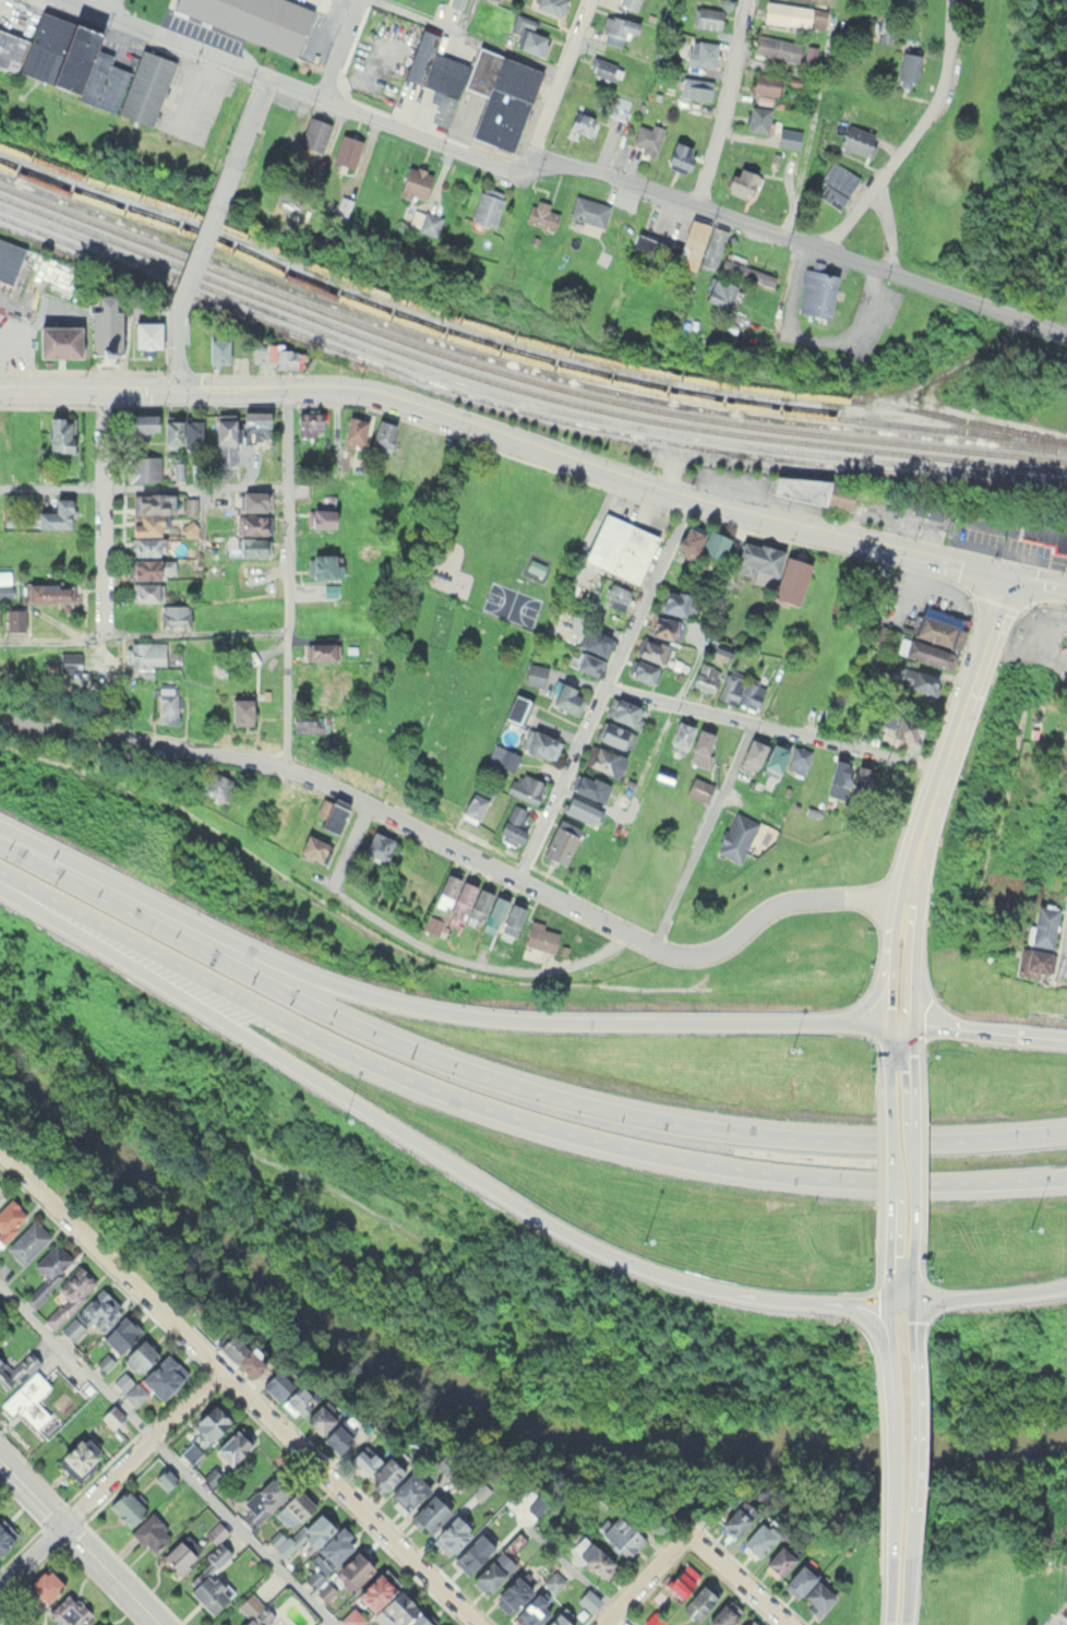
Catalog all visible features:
building: (806, 0)
building: (457, 2)
building: (628, 3)
road: (120, 4)
building: (551, 5)
building: (208, 10)
building: (794, 14)
building: (706, 16)
road: (432, 19)
building: (619, 28)
building: (528, 34)
road: (343, 49)
building: (787, 49)
building: (49, 51)
building: (703, 52)
building: (602, 68)
building: (907, 68)
building: (765, 83)
building: (145, 86)
building: (477, 87)
building: (695, 87)
road: (559, 91)
road: (310, 96)
building: (620, 106)
road: (729, 108)
building: (757, 118)
building: (582, 122)
road: (252, 126)
building: (314, 134)
building: (789, 136)
building: (647, 138)
building: (858, 140)
road: (919, 140)
building: (347, 152)
building: (680, 156)
building: (740, 181)
building: (415, 182)
building: (837, 183)
building: (485, 206)
building: (588, 211)
building: (540, 215)
building: (424, 222)
road: (890, 230)
road: (207, 240)
building: (702, 244)
building: (650, 247)
road: (795, 247)
building: (8, 262)
building: (745, 270)
building: (35, 280)
building: (718, 292)
building: (815, 294)
building: (99, 327)
railway: (520, 333)
building: (144, 334)
building: (55, 342)
road: (179, 350)
building: (217, 350)
building: (193, 353)
railway: (512, 353)
building: (285, 358)
railway: (519, 365)
railway: (519, 374)
traffic signals: (180, 386)
railway: (519, 386)
railway: (520, 396)
railway: (519, 404)
building: (309, 420)
building: (140, 421)
building: (254, 422)
building: (353, 426)
building: (180, 429)
building: (1, 430)
building: (381, 431)
building: (59, 433)
building: (224, 437)
road: (509, 442)
building: (142, 466)
road: (144, 486)
building: (810, 491)
building: (254, 498)
building: (190, 504)
building: (321, 509)
building: (51, 513)
building: (252, 522)
building: (146, 524)
park: (500, 533)
building: (703, 539)
building: (250, 545)
building: (620, 546)
road: (103, 562)
building: (537, 564)
building: (151, 566)
traffic signals: (1010, 574)
road: (289, 576)
building: (791, 577)
road: (1039, 579)
building: (145, 589)
building: (43, 590)
building: (616, 595)
building: (673, 600)
park: (514, 602)
building: (173, 614)
building: (12, 616)
building: (936, 623)
building: (661, 624)
road: (145, 633)
building: (595, 640)
building: (319, 649)
building: (651, 649)
building: (926, 650)
building: (144, 653)
building: (585, 661)
building: (63, 664)
building: (643, 670)
building: (1063, 671)
building: (316, 673)
building: (536, 673)
building: (706, 677)
building: (916, 678)
road: (602, 685)
building: (743, 690)
building: (565, 696)
building: (166, 701)
building: (239, 709)
building: (622, 709)
building: (308, 724)
road: (772, 727)
building: (907, 727)
building: (614, 734)
road: (954, 734)
building: (680, 736)
building: (538, 742)
building: (702, 745)
building: (752, 752)
building: (774, 757)
building: (604, 760)
building: (1066, 761)
building: (808, 763)
building: (848, 774)
building: (214, 784)
building: (589, 785)
building: (526, 787)
building: (698, 787)
building: (285, 800)
building: (471, 802)
road: (374, 805)
building: (578, 810)
building: (326, 812)
building: (513, 822)
road: (703, 833)
building: (736, 835)
building: (556, 840)
road: (351, 843)
building: (377, 843)
building: (313, 846)
road: (807, 896)
building: (478, 905)
building: (1043, 923)
road: (890, 928)
building: (540, 937)
road: (473, 959)
road: (913, 959)
building: (1033, 960)
road: (1065, 963)
road: (889, 991)
road: (866, 1001)
road: (436, 1008)
traffic signals: (890, 1021)
traffic signals: (912, 1021)
road: (990, 1028)
road: (888, 1044)
road: (912, 1044)
road: (509, 1082)
road: (508, 1113)
road: (420, 1143)
road: (912, 1156)
road: (887, 1157)
building: (1, 1194)
building: (10, 1217)
building: (27, 1241)
road: (110, 1254)
building: (50, 1268)
building: (70, 1293)
road: (972, 1294)
road: (888, 1297)
road: (913, 1297)
traffic signals: (913, 1300)
traffic signals: (888, 1301)
building: (103, 1321)
building: (133, 1360)
building: (251, 1361)
building: (8, 1372)
building: (149, 1381)
building: (275, 1383)
building: (28, 1398)
building: (296, 1399)
river: (481, 1399)
building: (208, 1421)
building: (333, 1422)
building: (231, 1446)
road: (889, 1450)
road: (910, 1450)
building: (191, 1453)
road: (170, 1456)
building: (76, 1459)
building: (375, 1466)
road: (109, 1480)
building: (406, 1491)
road: (353, 1496)
building: (263, 1499)
building: (125, 1505)
building: (429, 1513)
building: (738, 1518)
building: (151, 1531)
building: (451, 1533)
building: (4, 1534)
building: (301, 1534)
building: (621, 1536)
road: (695, 1536)
building: (759, 1539)
road: (82, 1542)
building: (334, 1545)
building: (591, 1555)
building: (178, 1556)
building: (469, 1556)
building: (781, 1557)
building: (352, 1568)
building: (492, 1570)
building: (211, 1574)
building: (682, 1579)
building: (43, 1587)
road: (896, 1587)
road: (904, 1587)
building: (810, 1588)
building: (513, 1592)
building: (699, 1600)
building: (388, 1602)
building: (254, 1611)
building: (532, 1611)
building: (70, 1612)
building: (722, 1614)
building: (352, 1617)
building: (558, 1620)
road: (1062, 1620)
park: (1062, 1622)
road: (898, 1623)
building: (96, 1624)
building: (746, 1624)

